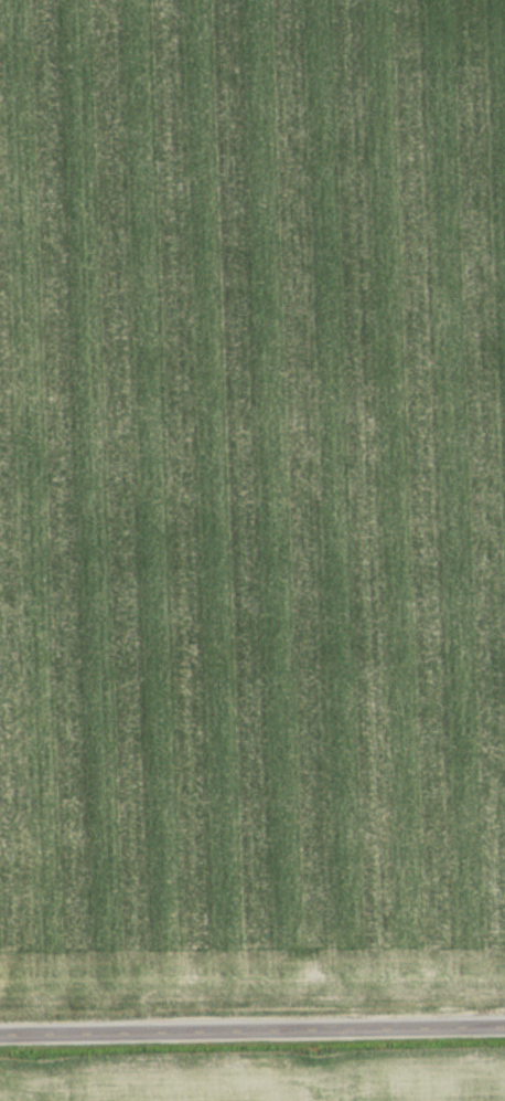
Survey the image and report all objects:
crop: (251, 495)
road: (253, 1031)
crop: (269, 1086)

